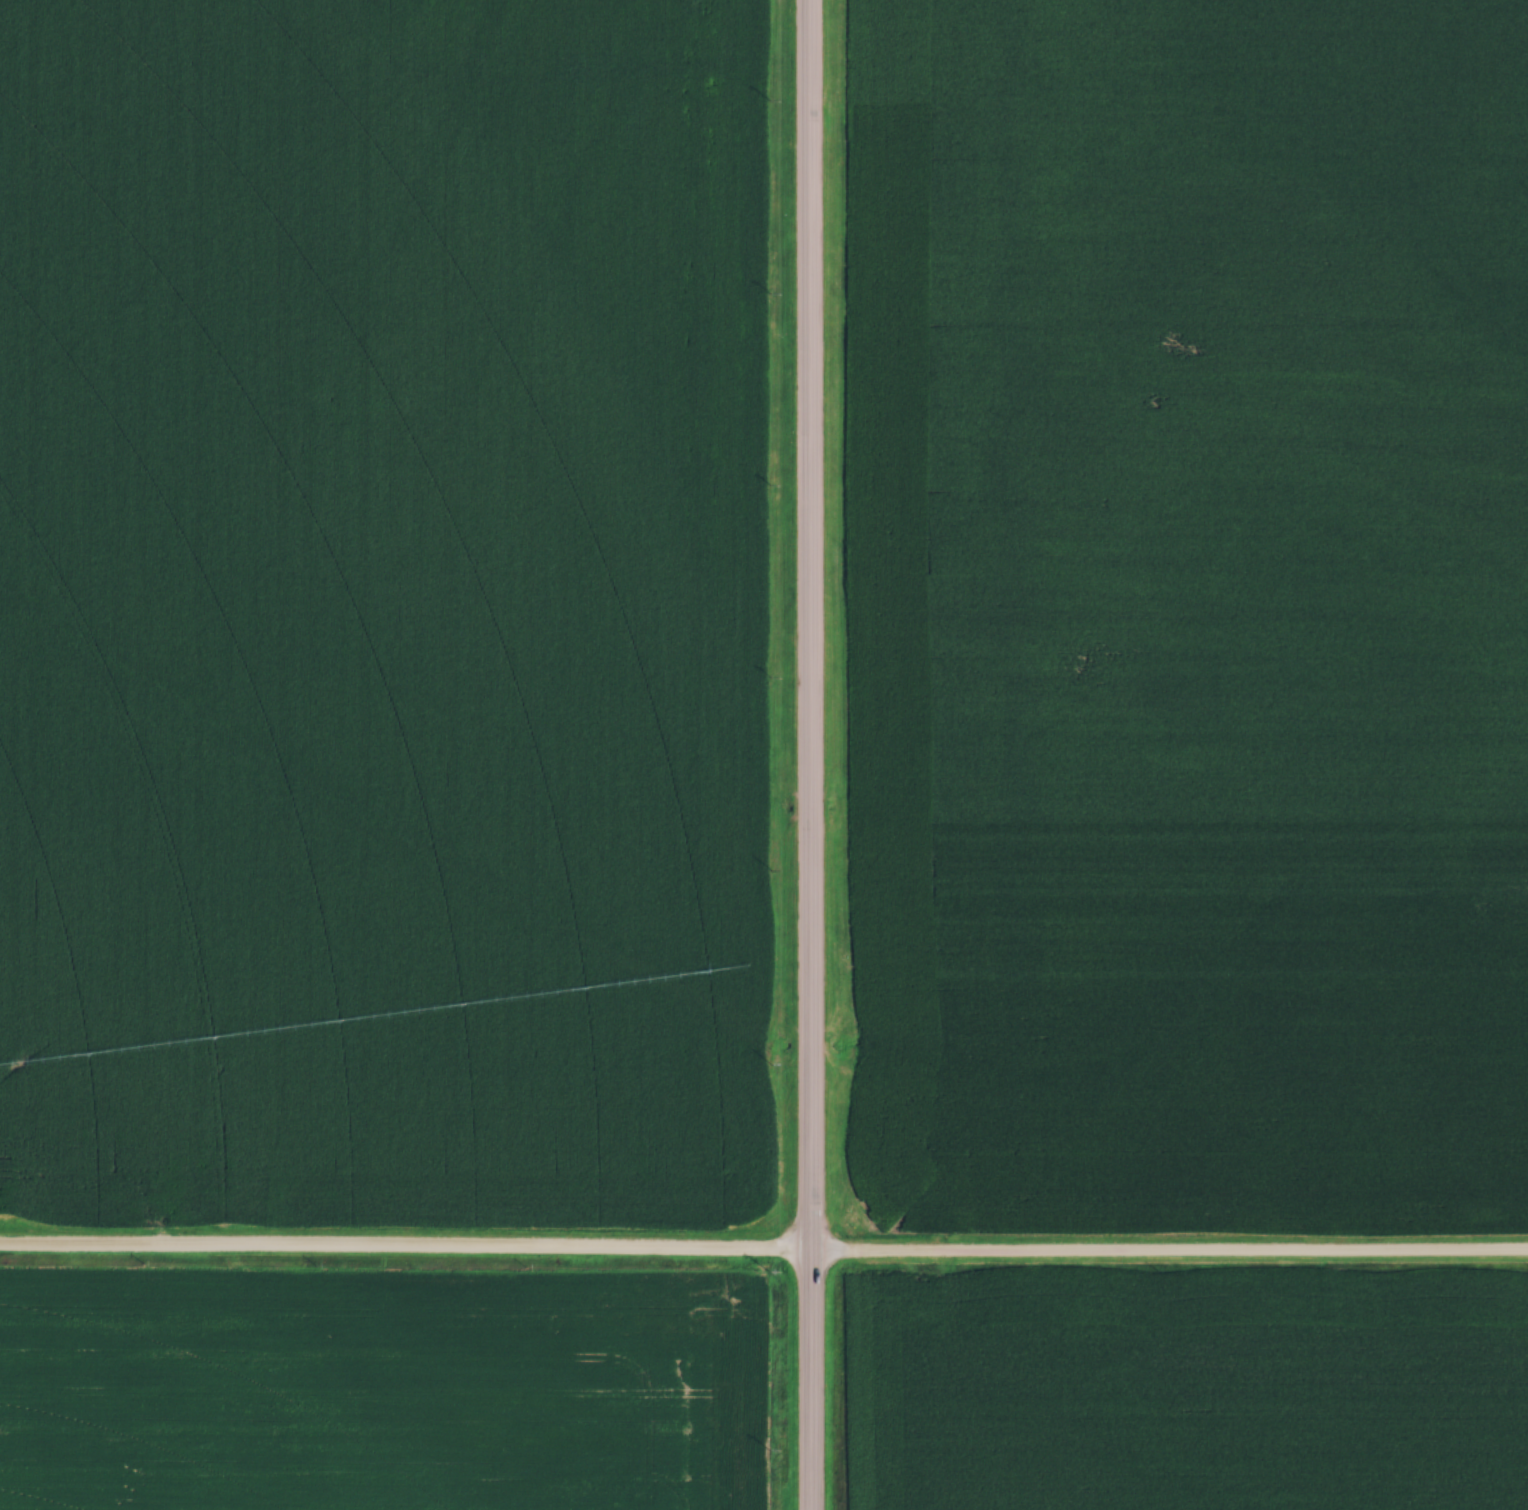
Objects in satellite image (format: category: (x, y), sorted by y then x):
building: (799, 189)
building: (800, 211)
road: (807, 755)
road: (763, 1244)

